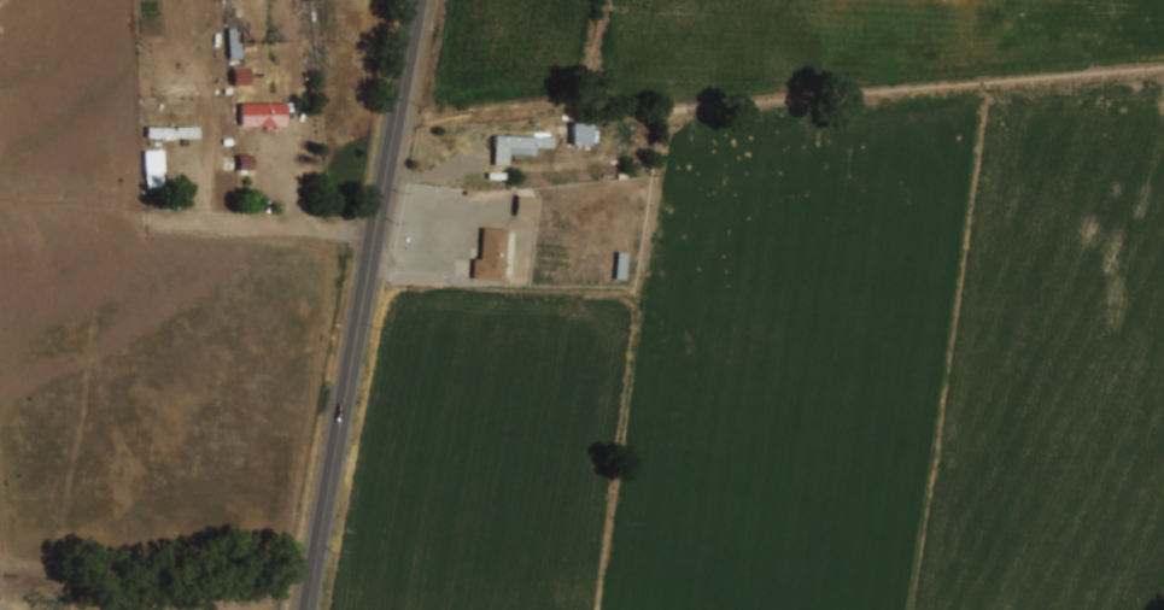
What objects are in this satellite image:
building: (233, 43)
building: (239, 76)
building: (263, 116)
building: (172, 134)
building: (579, 134)
building: (519, 148)
building: (523, 206)
road: (269, 225)
building: (492, 258)
building: (619, 266)
road: (362, 304)

